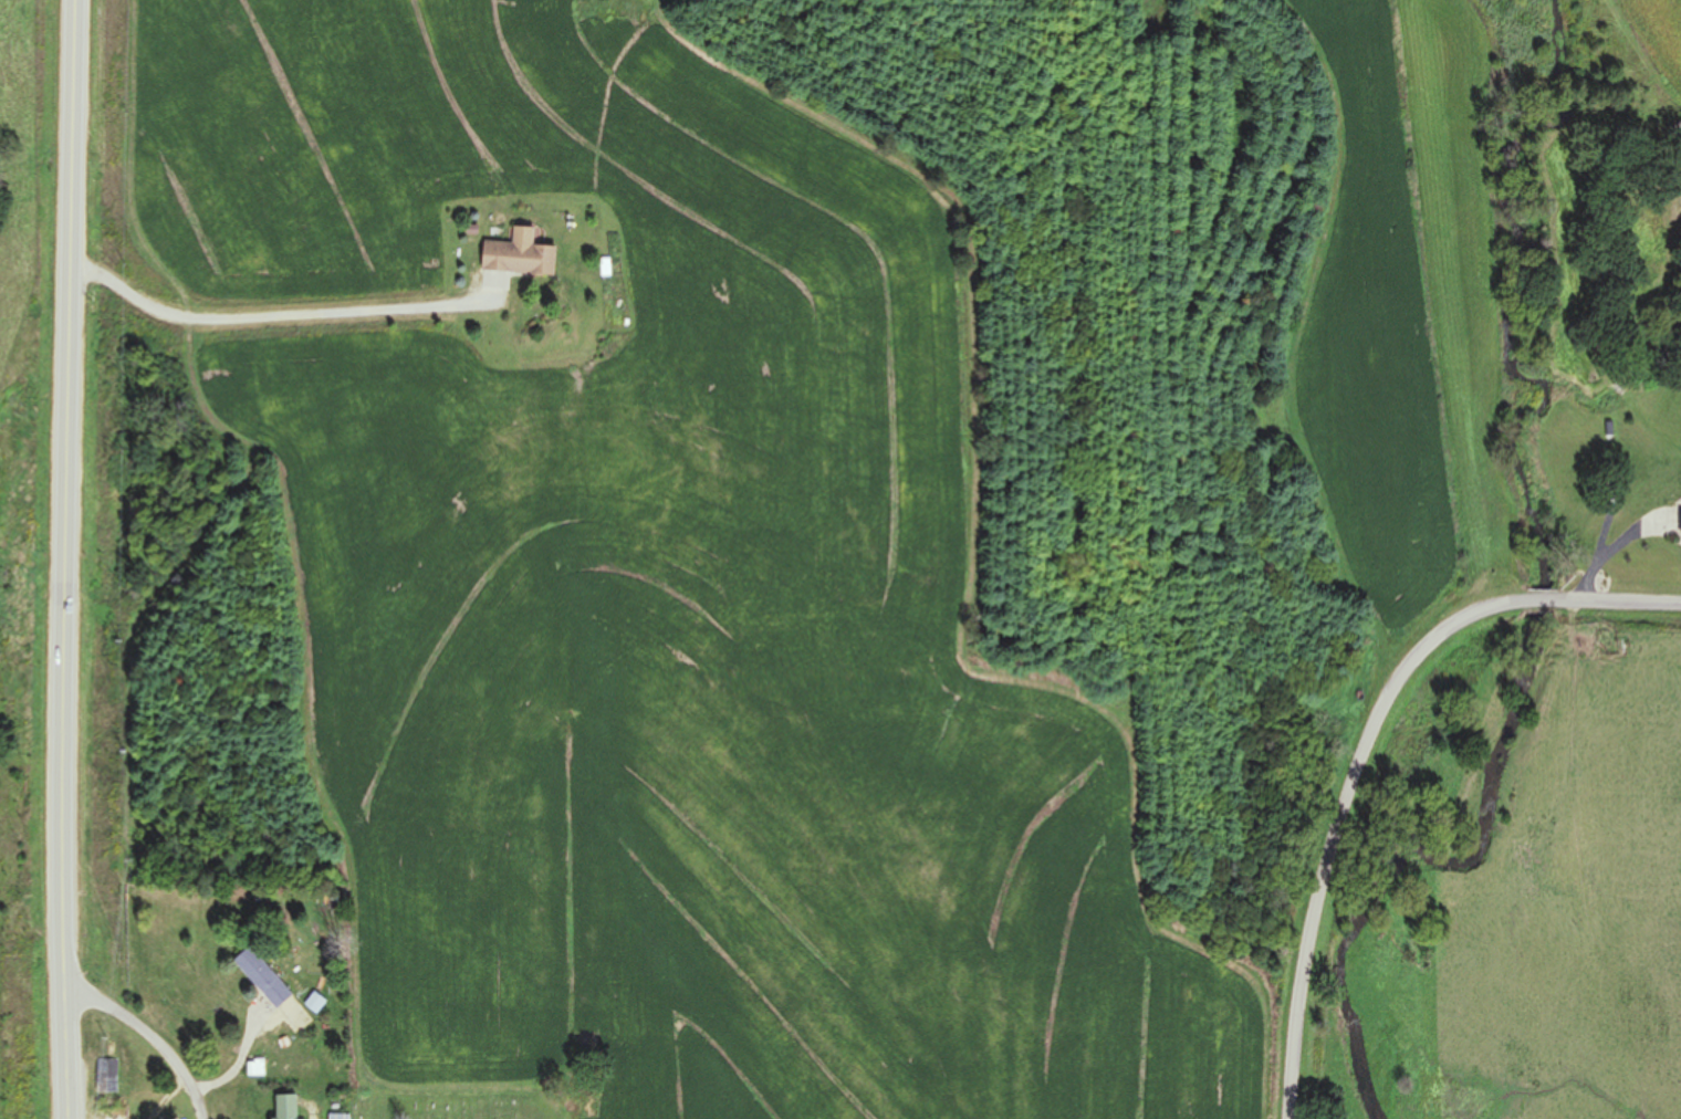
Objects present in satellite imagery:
building: (518, 255)
road: (265, 320)
building: (1680, 526)
road: (62, 558)
river: (1536, 584)
road: (1362, 746)
building: (267, 984)
road: (152, 1036)
building: (107, 1076)
park: (461, 1101)
building: (283, 1107)
road: (312, 1113)
building: (115, 1115)
building: (337, 1117)

